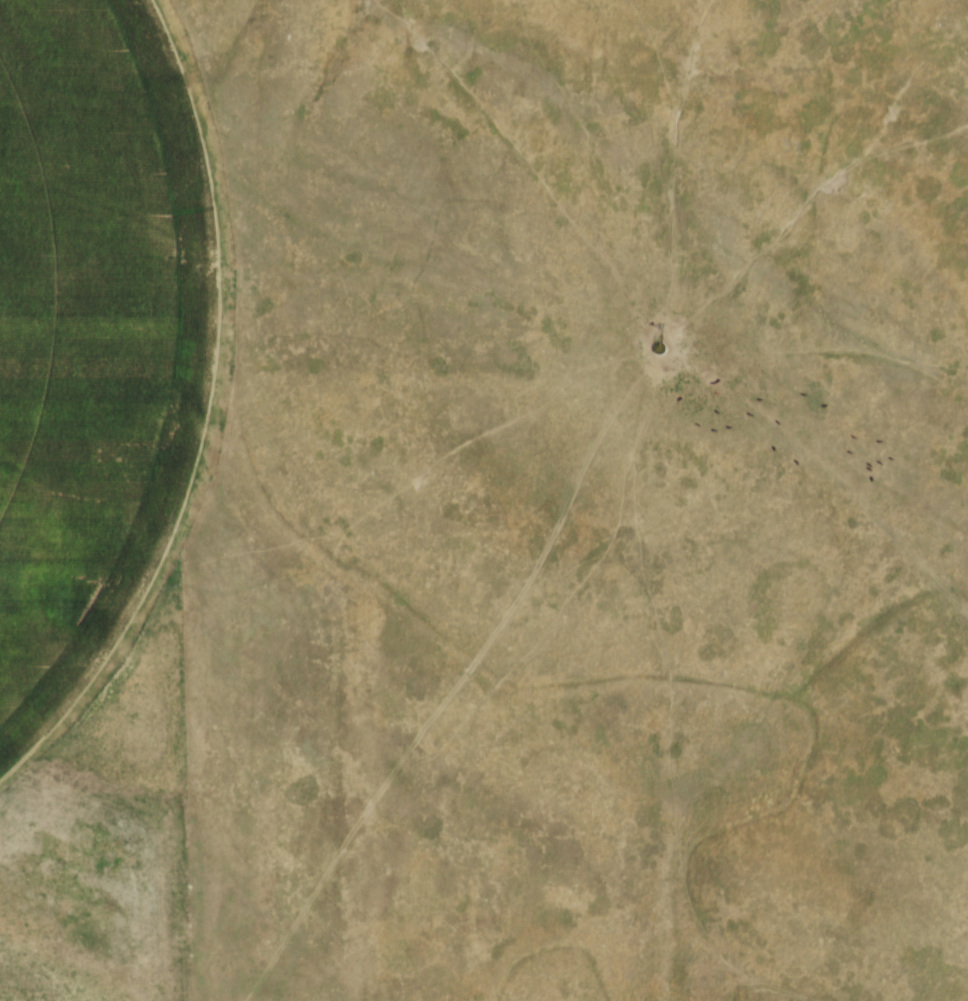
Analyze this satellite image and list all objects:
crop: (88, 331)

